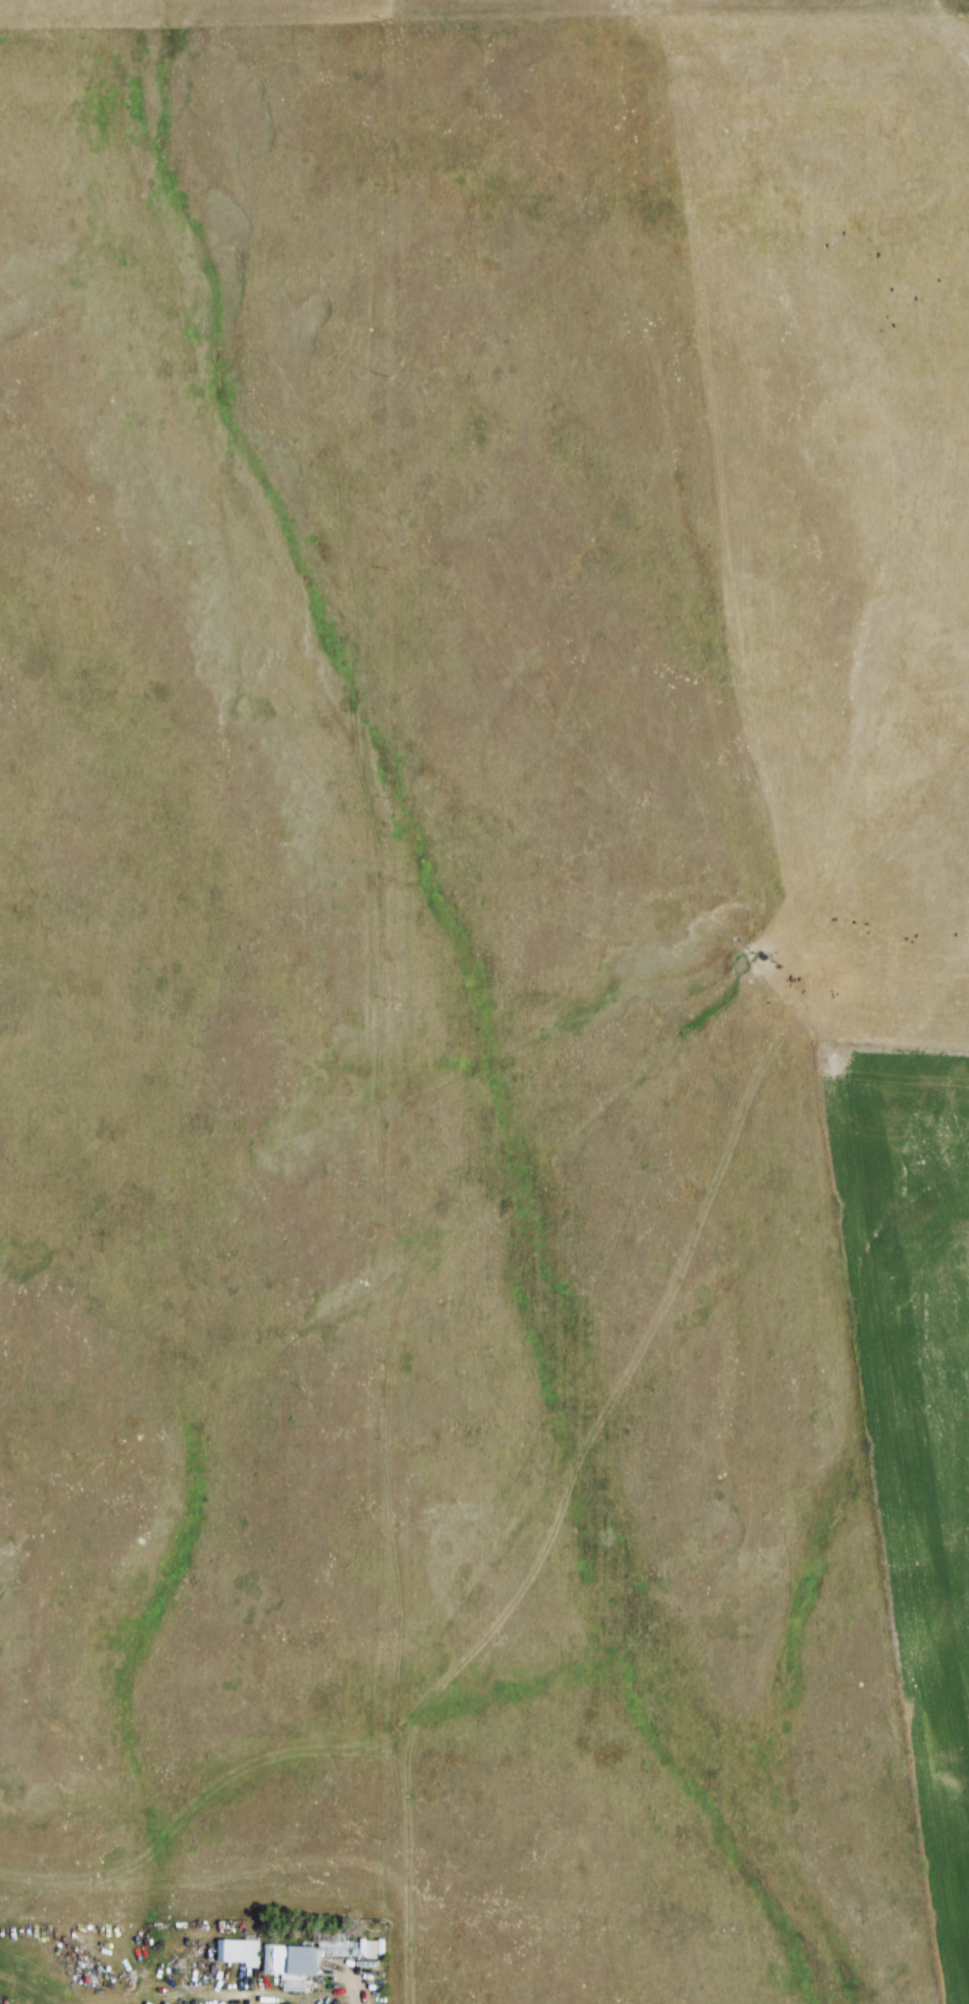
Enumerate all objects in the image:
building: (237, 1953)
building: (290, 1961)
road: (349, 1982)

